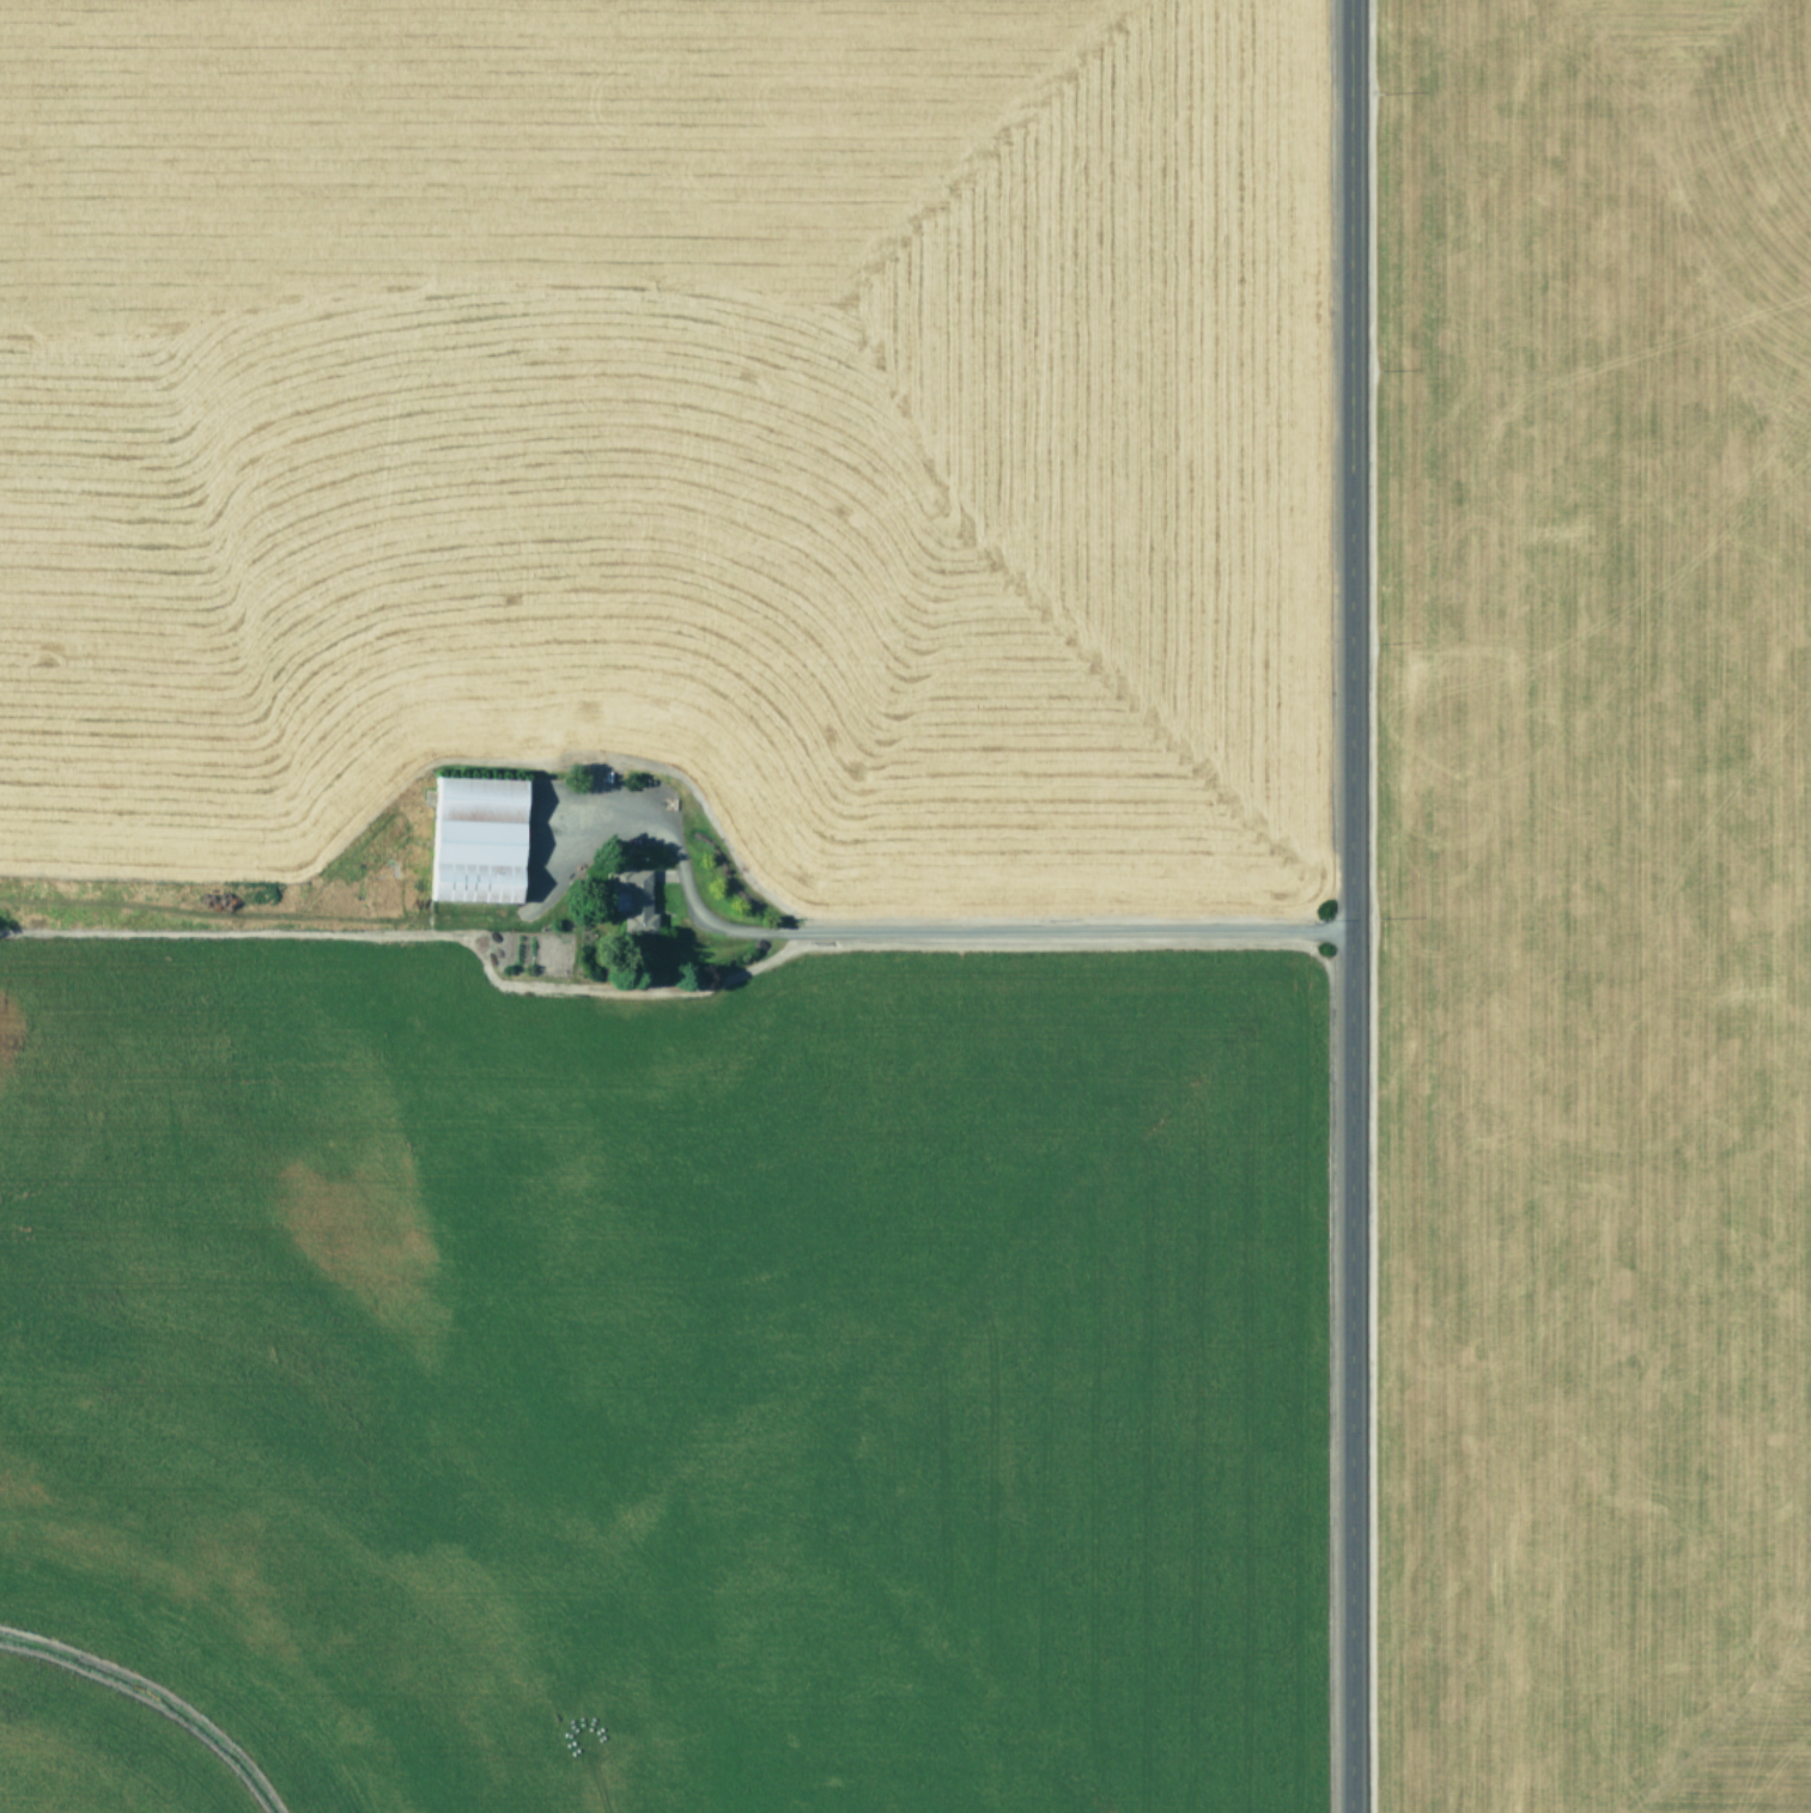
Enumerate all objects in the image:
building: (479, 839)
building: (632, 896)
crop: (661, 906)
road: (1348, 906)
crop: (1594, 907)
road: (966, 929)

